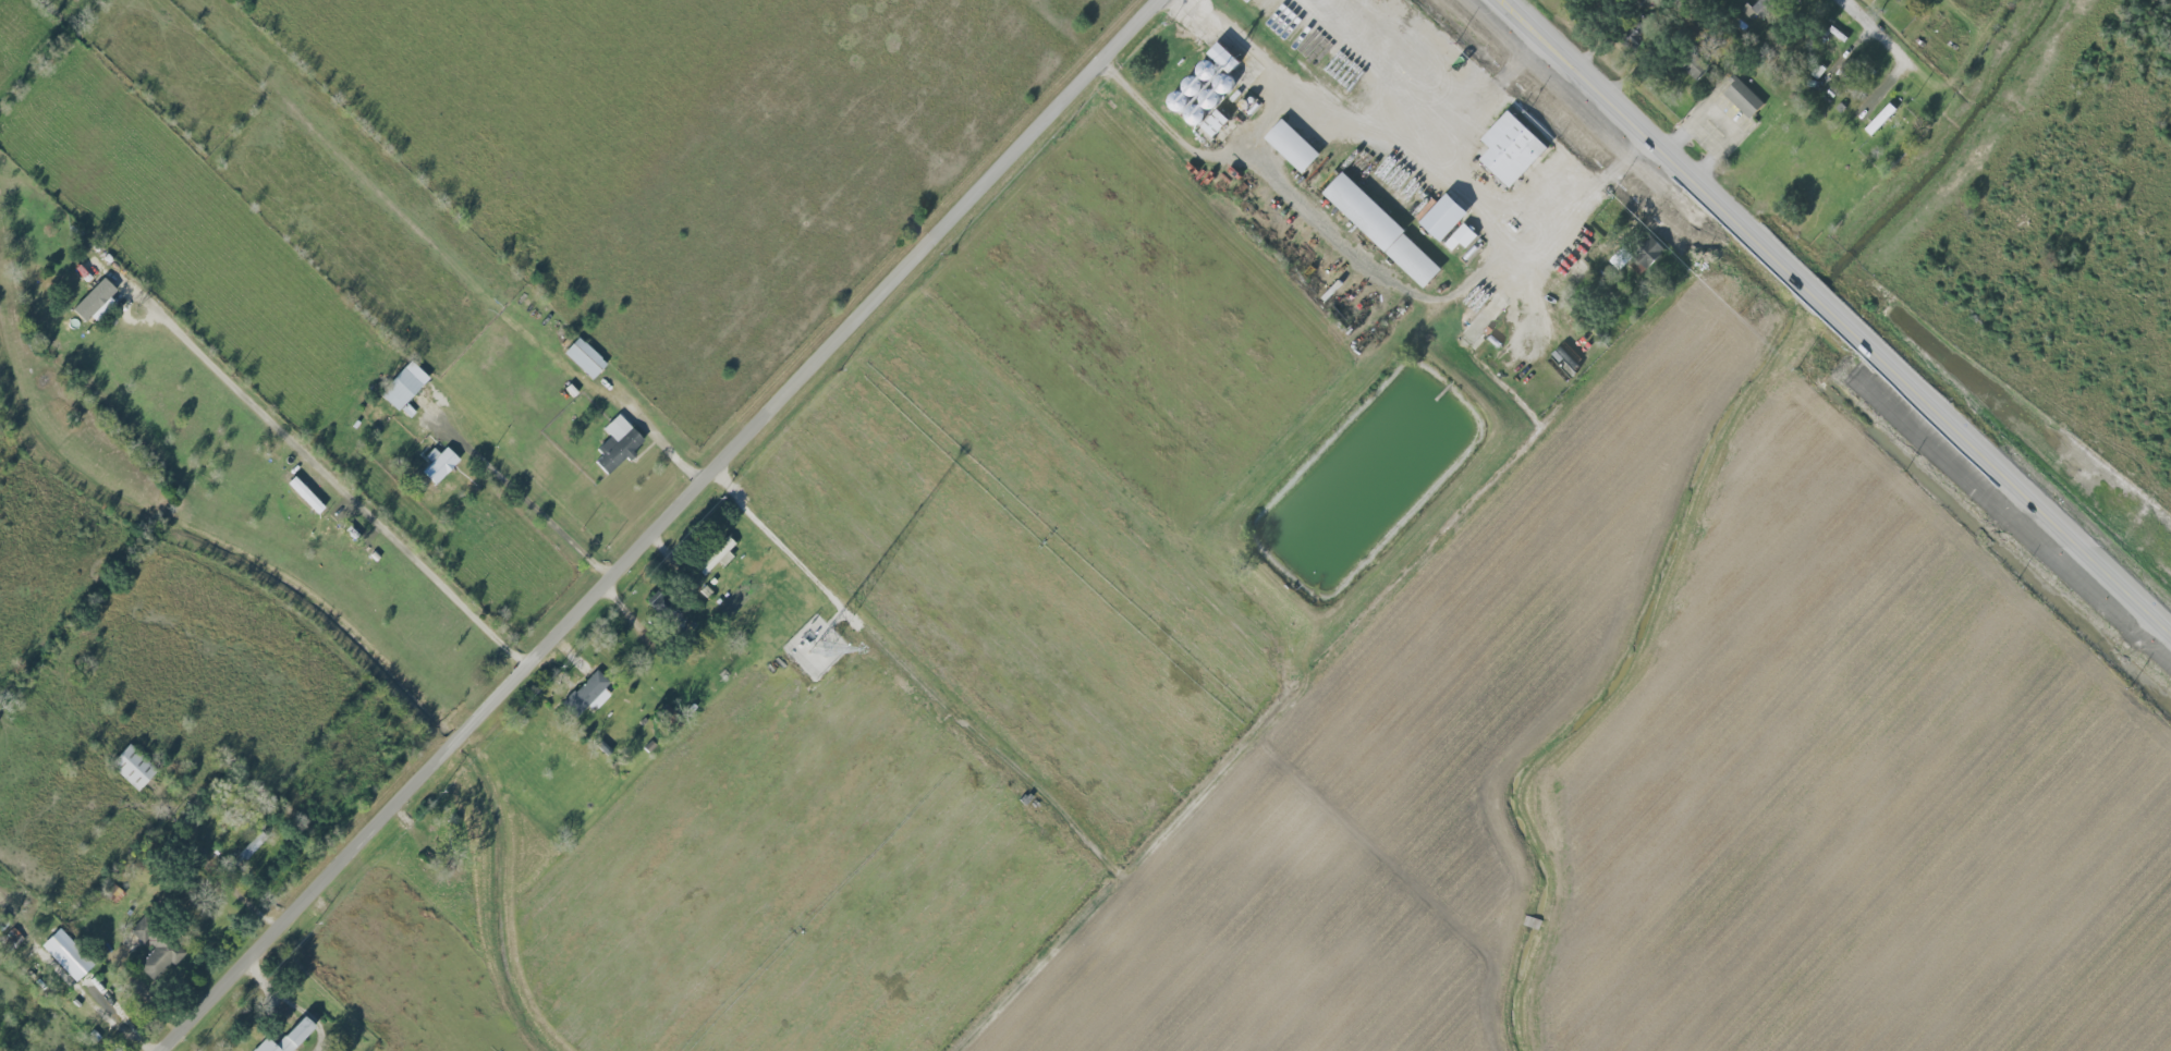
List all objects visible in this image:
building: (1896, 0)
building: (1759, 9)
road: (1865, 14)
road: (1408, 58)
building: (1696, 66)
building: (1208, 85)
building: (1744, 98)
road: (1724, 118)
building: (1881, 119)
building: (1216, 124)
road: (1376, 139)
road: (1577, 139)
building: (1294, 145)
road: (1196, 148)
building: (1513, 148)
road: (1473, 196)
building: (1447, 216)
building: (1386, 230)
building: (1463, 236)
building: (1650, 252)
building: (1622, 259)
road: (1422, 296)
building: (95, 298)
road: (1842, 318)
building: (585, 357)
building: (404, 386)
building: (618, 443)
building: (440, 464)
road: (333, 481)
road: (538, 508)
road: (661, 526)
road: (793, 545)
building: (718, 554)
building: (589, 693)
building: (133, 767)
building: (117, 895)
building: (156, 949)
building: (68, 954)
building: (289, 1038)

